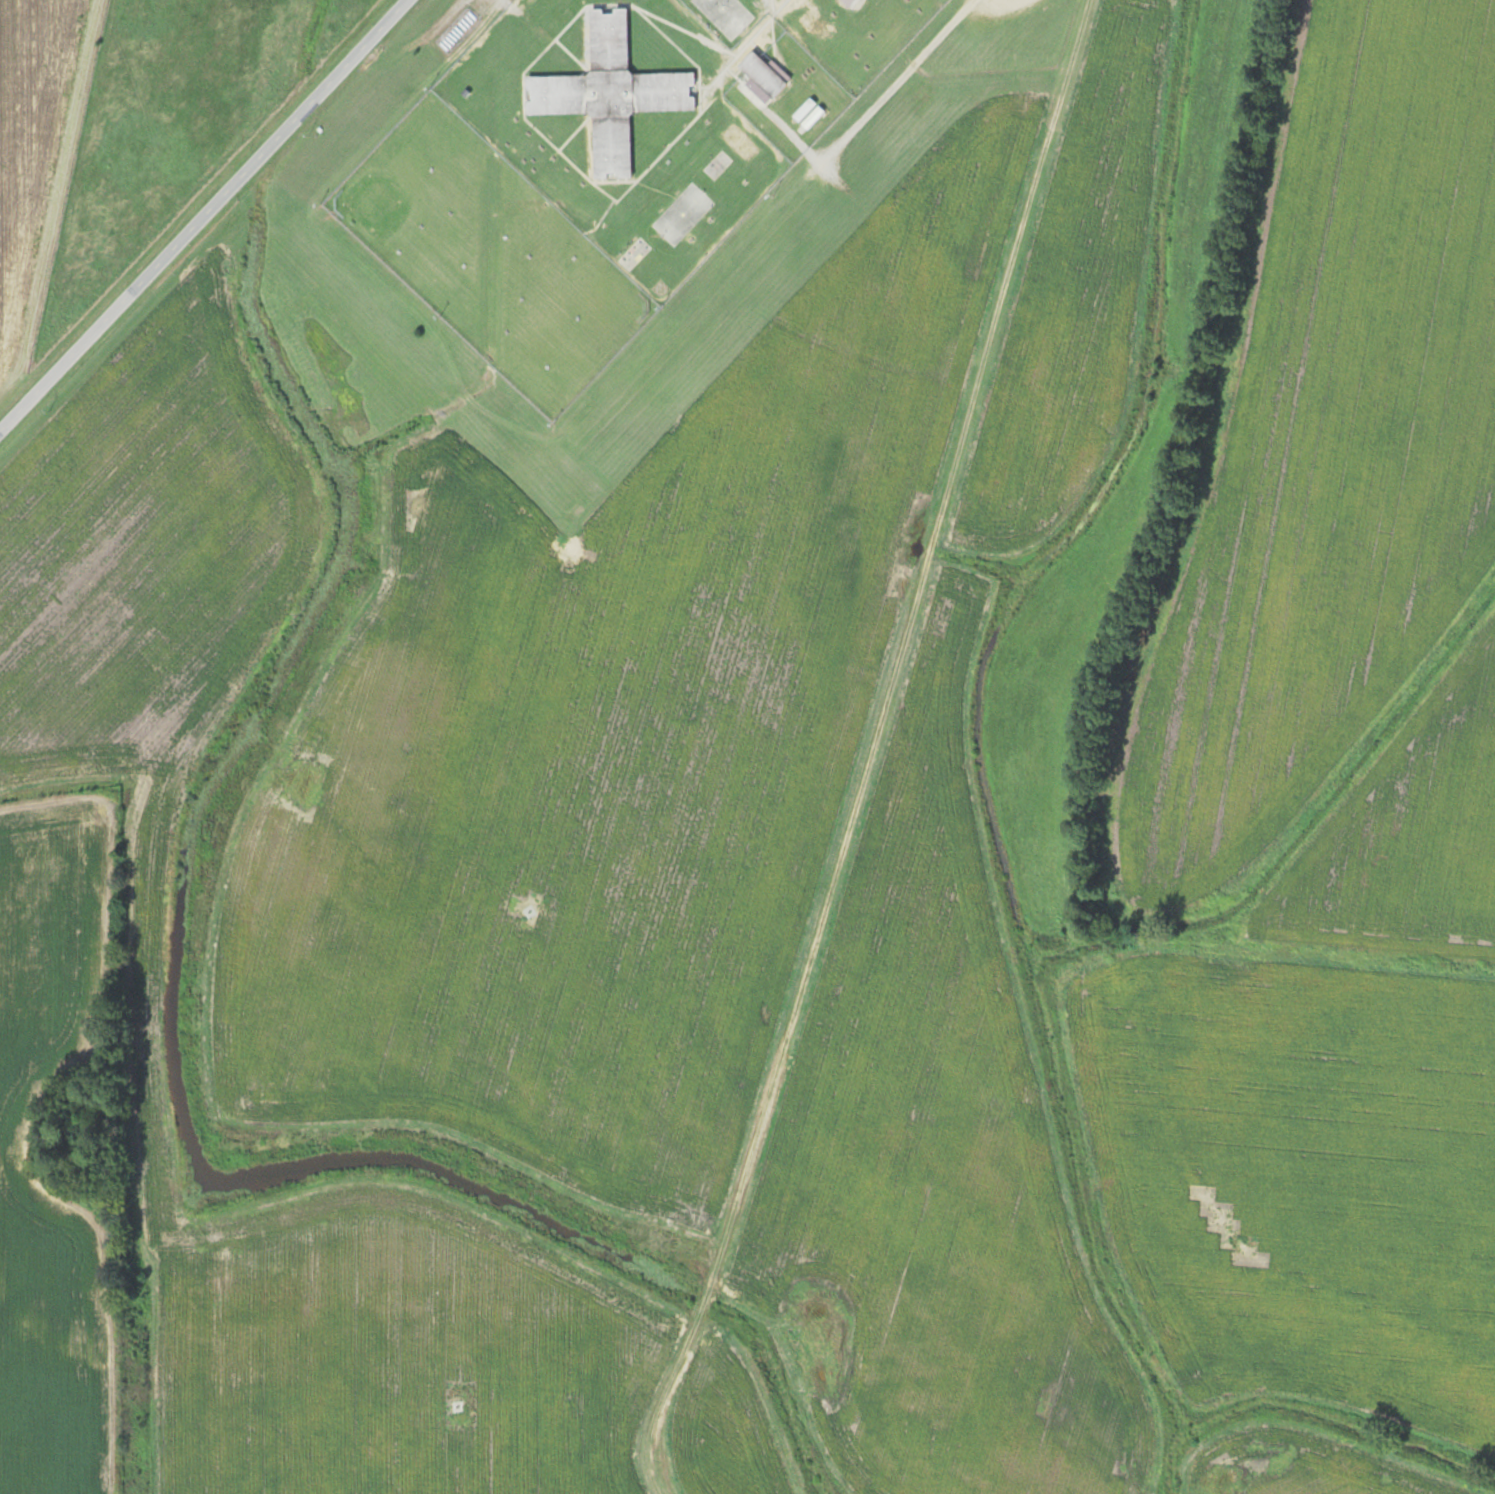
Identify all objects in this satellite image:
building: (846, 1)
building: (761, 77)
building: (600, 100)
road: (199, 211)
building: (682, 214)
road: (875, 746)

